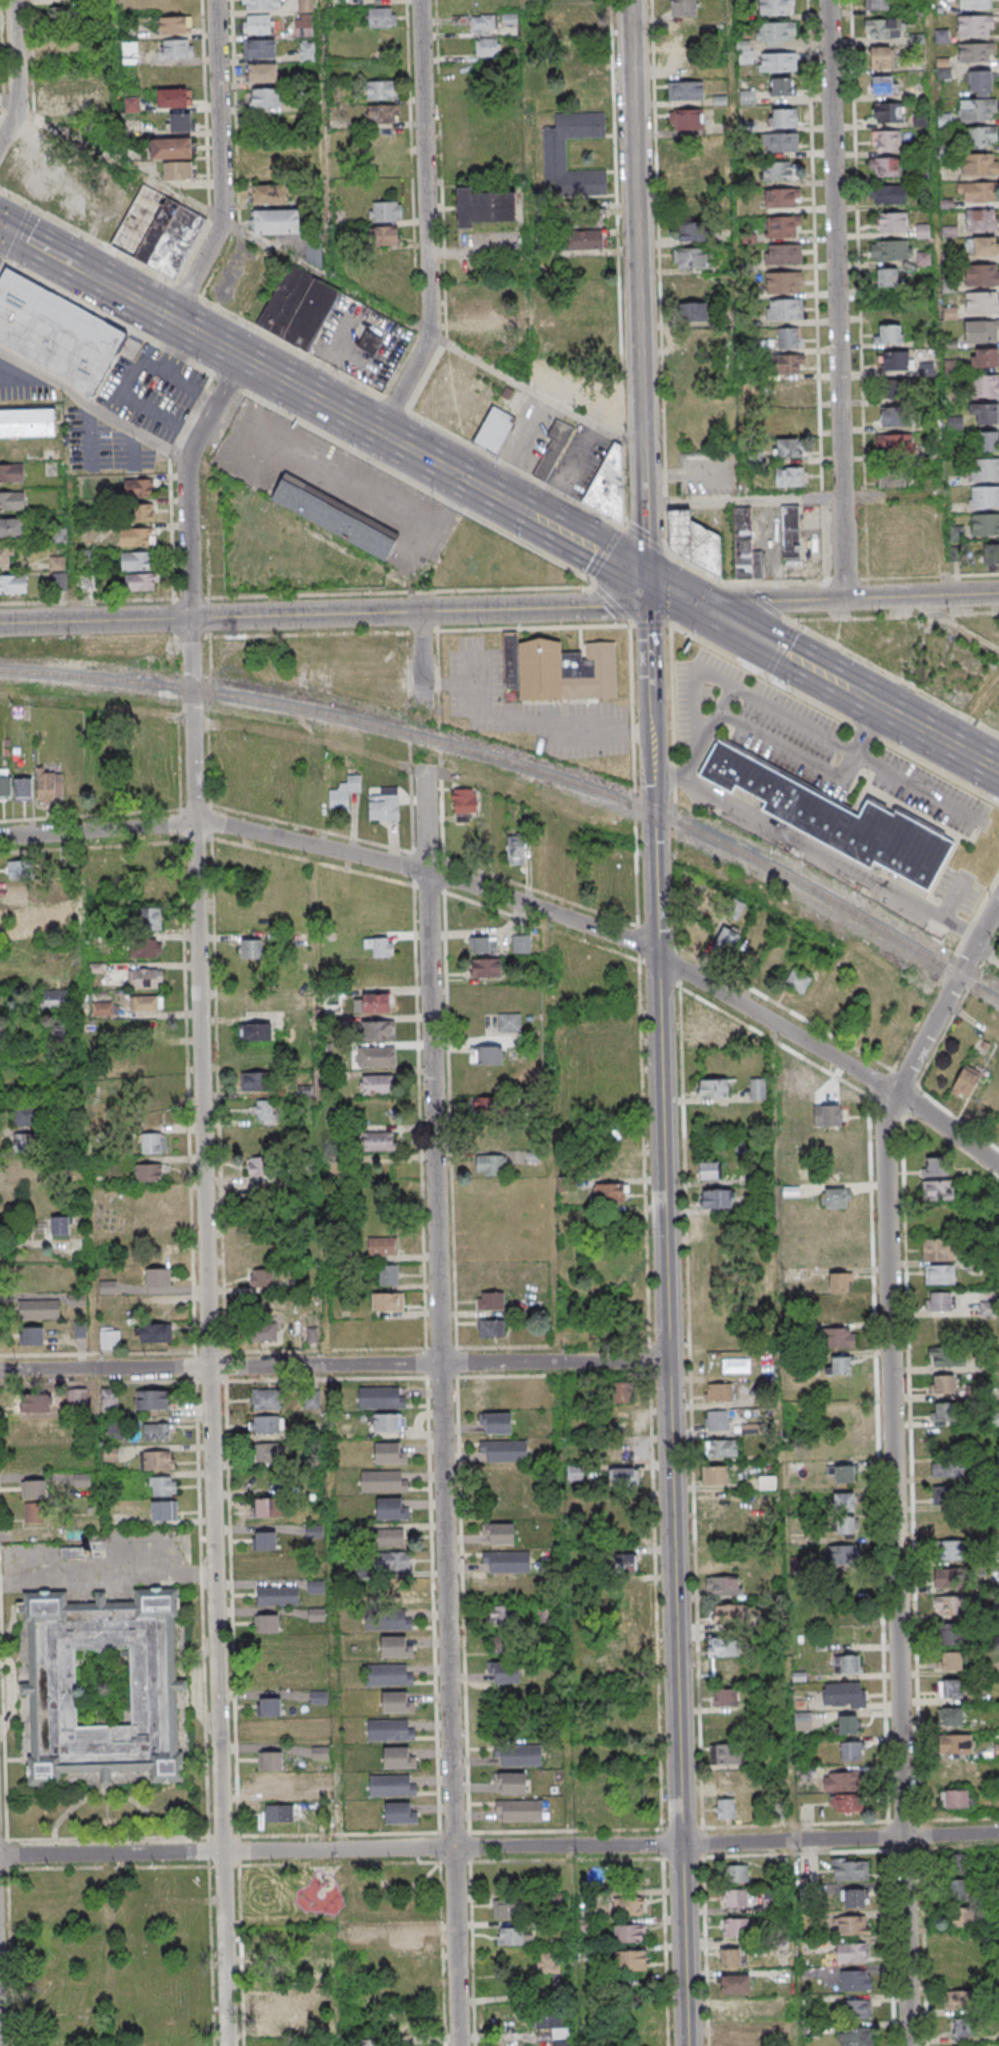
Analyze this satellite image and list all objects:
building: (975, 4)
building: (260, 5)
building: (776, 7)
building: (682, 8)
building: (64, 18)
building: (380, 18)
building: (488, 21)
building: (258, 24)
building: (176, 25)
building: (580, 25)
building: (885, 28)
building: (975, 28)
building: (774, 33)
building: (176, 48)
building: (260, 48)
building: (485, 48)
building: (307, 51)
building: (744, 51)
building: (129, 52)
building: (976, 55)
building: (880, 58)
building: (777, 61)
building: (570, 66)
building: (262, 73)
road: (14, 74)
building: (980, 82)
building: (882, 85)
building: (781, 86)
building: (59, 89)
building: (381, 89)
building: (685, 90)
building: (174, 97)
building: (265, 97)
building: (747, 97)
building: (978, 112)
building: (383, 113)
building: (888, 113)
building: (781, 118)
building: (685, 119)
road: (632, 121)
building: (181, 122)
building: (979, 139)
building: (886, 140)
building: (781, 142)
building: (171, 148)
building: (554, 153)
building: (979, 164)
road: (219, 165)
building: (886, 166)
building: (179, 170)
building: (781, 171)
building: (687, 175)
building: (889, 193)
building: (267, 194)
building: (980, 194)
building: (782, 198)
building: (486, 206)
building: (385, 211)
road: (215, 216)
building: (586, 220)
building: (981, 220)
building: (891, 221)
building: (276, 222)
road: (425, 222)
building: (783, 226)
road: (1, 227)
traffic signals: (2, 228)
road: (1, 229)
building: (690, 230)
building: (158, 231)
building: (922, 231)
road: (17, 233)
building: (383, 235)
building: (582, 240)
building: (983, 246)
road: (38, 248)
building: (891, 250)
building: (313, 252)
building: (783, 254)
building: (689, 258)
road: (2, 259)
road: (616, 263)
building: (982, 274)
road: (92, 277)
building: (887, 277)
road: (659, 278)
building: (784, 282)
building: (690, 285)
road: (839, 299)
building: (982, 303)
building: (298, 308)
building: (785, 309)
building: (694, 311)
building: (950, 313)
building: (478, 316)
road: (108, 317)
building: (981, 331)
building: (56, 332)
building: (888, 333)
building: (787, 338)
building: (478, 340)
building: (691, 340)
road: (818, 341)
building: (369, 343)
road: (862, 355)
road: (310, 357)
building: (984, 357)
road: (242, 359)
building: (895, 360)
building: (790, 363)
building: (691, 369)
road: (228, 382)
building: (984, 385)
building: (897, 389)
building: (788, 392)
road: (533, 393)
road: (90, 408)
road: (641, 412)
building: (983, 413)
building: (896, 417)
building: (788, 421)
building: (27, 423)
building: (494, 429)
building: (988, 440)
building: (893, 444)
building: (552, 448)
building: (787, 449)
building: (984, 472)
building: (11, 473)
road: (453, 473)
building: (891, 477)
building: (788, 478)
road: (416, 485)
building: (609, 486)
building: (138, 487)
building: (985, 499)
building: (11, 501)
road: (744, 501)
building: (142, 512)
building: (335, 516)
building: (985, 527)
building: (11, 528)
building: (790, 533)
building: (136, 536)
building: (692, 541)
road: (588, 547)
building: (745, 548)
building: (991, 554)
building: (5, 555)
road: (670, 558)
building: (136, 560)
building: (57, 563)
building: (59, 578)
traffic signals: (647, 581)
road: (847, 581)
building: (86, 582)
building: (139, 582)
building: (13, 584)
road: (668, 591)
road: (602, 593)
road: (298, 596)
road: (923, 596)
road: (768, 601)
road: (759, 602)
traffic signals: (689, 603)
road: (538, 607)
road: (210, 617)
road: (489, 630)
road: (958, 630)
road: (770, 648)
road: (780, 649)
road: (422, 658)
road: (475, 667)
building: (560, 674)
road: (896, 677)
road: (650, 696)
road: (775, 707)
road: (672, 711)
road: (834, 713)
road: (526, 720)
road: (869, 731)
road: (925, 732)
railway: (523, 767)
building: (5, 783)
building: (49, 787)
building: (23, 789)
building: (343, 793)
building: (464, 804)
building: (383, 807)
building: (832, 825)
building: (515, 849)
road: (829, 858)
building: (18, 869)
road: (654, 882)
building: (622, 883)
road: (529, 887)
building: (17, 895)
road: (950, 900)
road: (529, 906)
building: (65, 915)
building: (148, 918)
road: (529, 922)
road: (638, 932)
building: (726, 939)
building: (521, 943)
building: (483, 945)
building: (145, 947)
building: (382, 947)
building: (251, 948)
road: (987, 954)
building: (485, 966)
building: (144, 978)
building: (797, 982)
building: (53, 1000)
building: (146, 1003)
building: (373, 1003)
building: (102, 1008)
building: (509, 1022)
building: (605, 1027)
building: (378, 1029)
building: (255, 1032)
building: (708, 1036)
building: (485, 1055)
building: (611, 1055)
building: (376, 1056)
building: (33, 1063)
building: (253, 1081)
building: (965, 1083)
building: (375, 1084)
building: (712, 1088)
building: (757, 1088)
building: (488, 1108)
building: (265, 1112)
building: (27, 1115)
building: (828, 1115)
building: (378, 1141)
building: (26, 1143)
building: (153, 1143)
building: (532, 1157)
building: (490, 1165)
building: (934, 1166)
building: (258, 1167)
building: (710, 1170)
building: (148, 1172)
building: (939, 1190)
building: (608, 1192)
road: (204, 1195)
building: (833, 1197)
building: (716, 1199)
building: (60, 1225)
building: (383, 1246)
building: (939, 1249)
building: (388, 1274)
building: (939, 1274)
building: (156, 1277)
building: (261, 1278)
building: (839, 1281)
building: (76, 1300)
building: (491, 1300)
building: (387, 1301)
building: (939, 1301)
building: (988, 1308)
building: (39, 1309)
building: (491, 1328)
building: (155, 1333)
building: (265, 1333)
building: (31, 1335)
building: (842, 1338)
building: (109, 1340)
building: (946, 1356)
road: (333, 1365)
building: (840, 1365)
building: (715, 1366)
building: (942, 1384)
building: (717, 1392)
building: (77, 1397)
road: (667, 1397)
building: (109, 1398)
building: (152, 1399)
building: (265, 1399)
building: (312, 1399)
building: (382, 1402)
building: (35, 1403)
road: (440, 1407)
building: (942, 1411)
building: (716, 1420)
building: (384, 1422)
building: (625, 1424)
building: (266, 1425)
building: (116, 1427)
building: (36, 1428)
building: (497, 1428)
building: (156, 1432)
building: (722, 1447)
building: (266, 1454)
building: (505, 1455)
building: (389, 1457)
road: (892, 1459)
building: (158, 1460)
building: (947, 1467)
building: (842, 1474)
building: (714, 1475)
building: (622, 1477)
road: (556, 1478)
building: (384, 1484)
building: (162, 1486)
building: (33, 1489)
building: (945, 1495)
building: (843, 1501)
building: (727, 1503)
building: (268, 1507)
building: (164, 1510)
building: (34, 1512)
building: (391, 1512)
building: (845, 1525)
building: (724, 1532)
building: (391, 1537)
building: (500, 1538)
building: (265, 1540)
building: (953, 1551)
building: (844, 1555)
building: (392, 1561)
building: (621, 1563)
building: (508, 1565)
building: (953, 1580)
building: (723, 1585)
building: (316, 1587)
building: (846, 1589)
building: (387, 1590)
building: (277, 1596)
road: (203, 1602)
building: (951, 1607)
building: (727, 1614)
building: (500, 1615)
building: (388, 1623)
building: (266, 1624)
building: (953, 1636)
building: (502, 1643)
building: (723, 1647)
building: (395, 1650)
building: (951, 1661)
building: (846, 1663)
building: (503, 1672)
building: (728, 1673)
building: (389, 1678)
building: (951, 1688)
building: (48, 1691)
building: (843, 1694)
building: (724, 1696)
building: (269, 1706)
building: (396, 1706)
building: (950, 1716)
building: (803, 1720)
building: (847, 1724)
building: (727, 1725)
building: (390, 1733)
building: (955, 1744)
building: (850, 1750)
building: (997, 1751)
building: (725, 1753)
building: (519, 1759)
building: (270, 1760)
building: (398, 1762)
building: (723, 1779)
building: (840, 1780)
building: (279, 1783)
building: (510, 1783)
building: (392, 1789)
building: (954, 1799)
road: (7, 1802)
building: (846, 1803)
building: (726, 1808)
building: (279, 1813)
building: (521, 1814)
building: (400, 1817)
road: (504, 1830)
road: (610, 1845)
road: (110, 1854)
building: (850, 1868)
building: (737, 1874)
building: (958, 1891)
park: (341, 1895)
building: (854, 1898)
building: (734, 1899)
building: (627, 1907)
building: (506, 1909)
building: (961, 1917)
building: (852, 1926)
building: (734, 1928)
building: (356, 1933)
building: (627, 1934)
building: (513, 1937)
building: (403, 1938)
road: (682, 1944)
building: (851, 1952)
building: (729, 1957)
building: (631, 1961)
building: (321, 1962)
building: (547, 1964)
building: (855, 1980)
building: (734, 1983)
road: (339, 1987)
building: (958, 1999)
building: (858, 2008)
building: (733, 2013)
building: (547, 2020)
building: (961, 2026)
building: (855, 2035)
building: (739, 2038)
building: (369, 2043)

